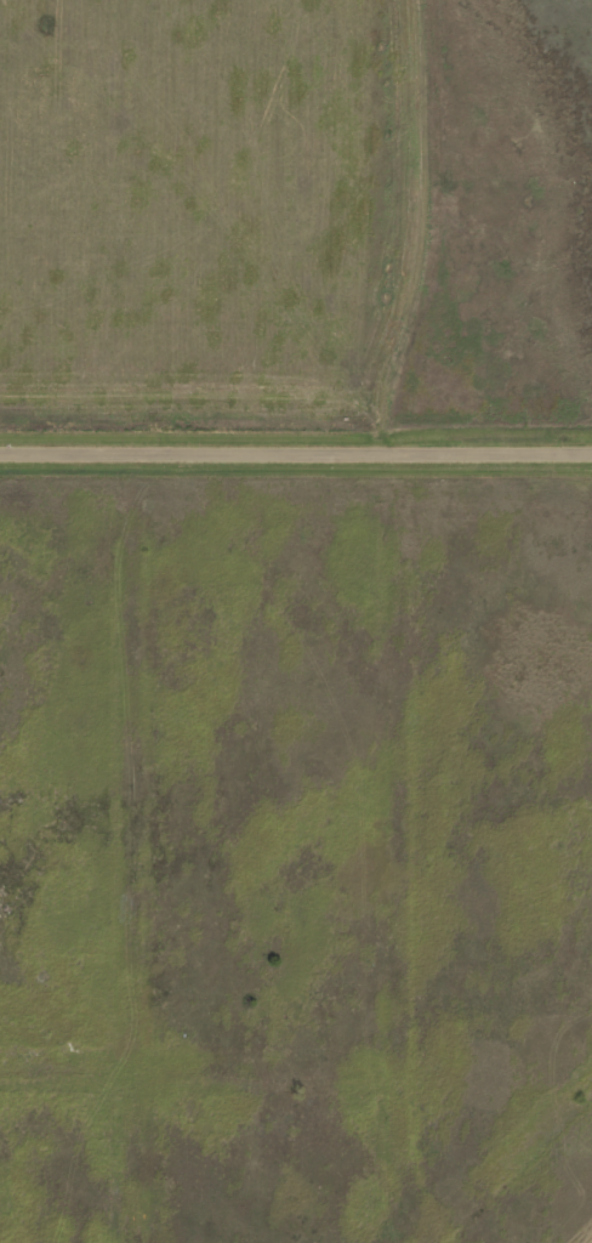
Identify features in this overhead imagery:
road: (296, 450)
road: (136, 846)
road: (397, 846)
road: (199, 1069)
road: (513, 1164)

